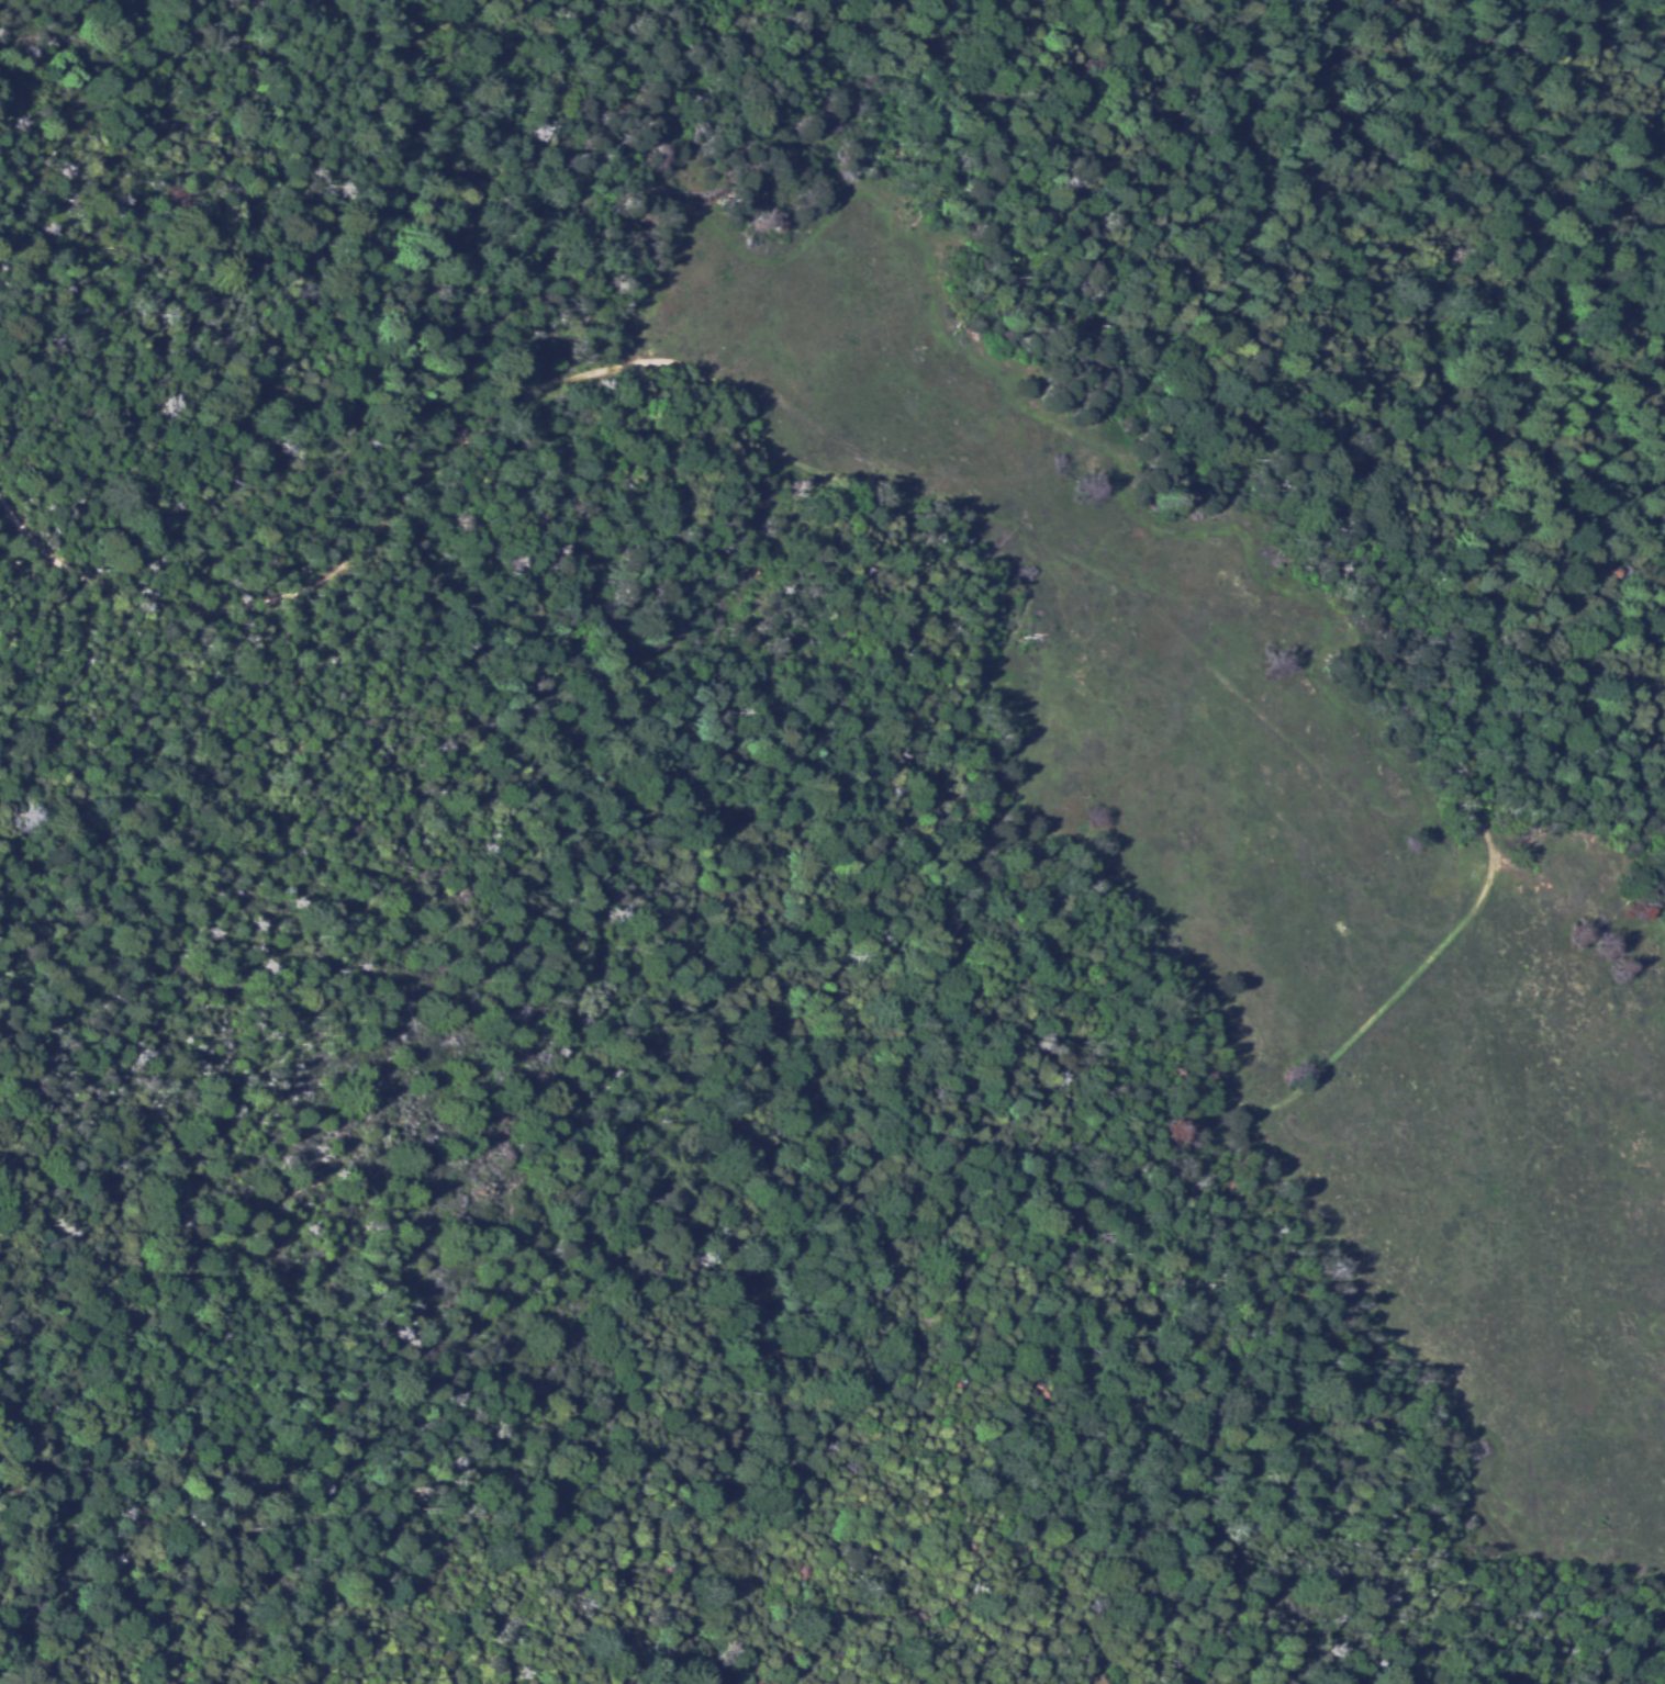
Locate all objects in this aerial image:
road: (21, 167)
road: (1495, 583)
road: (963, 650)

